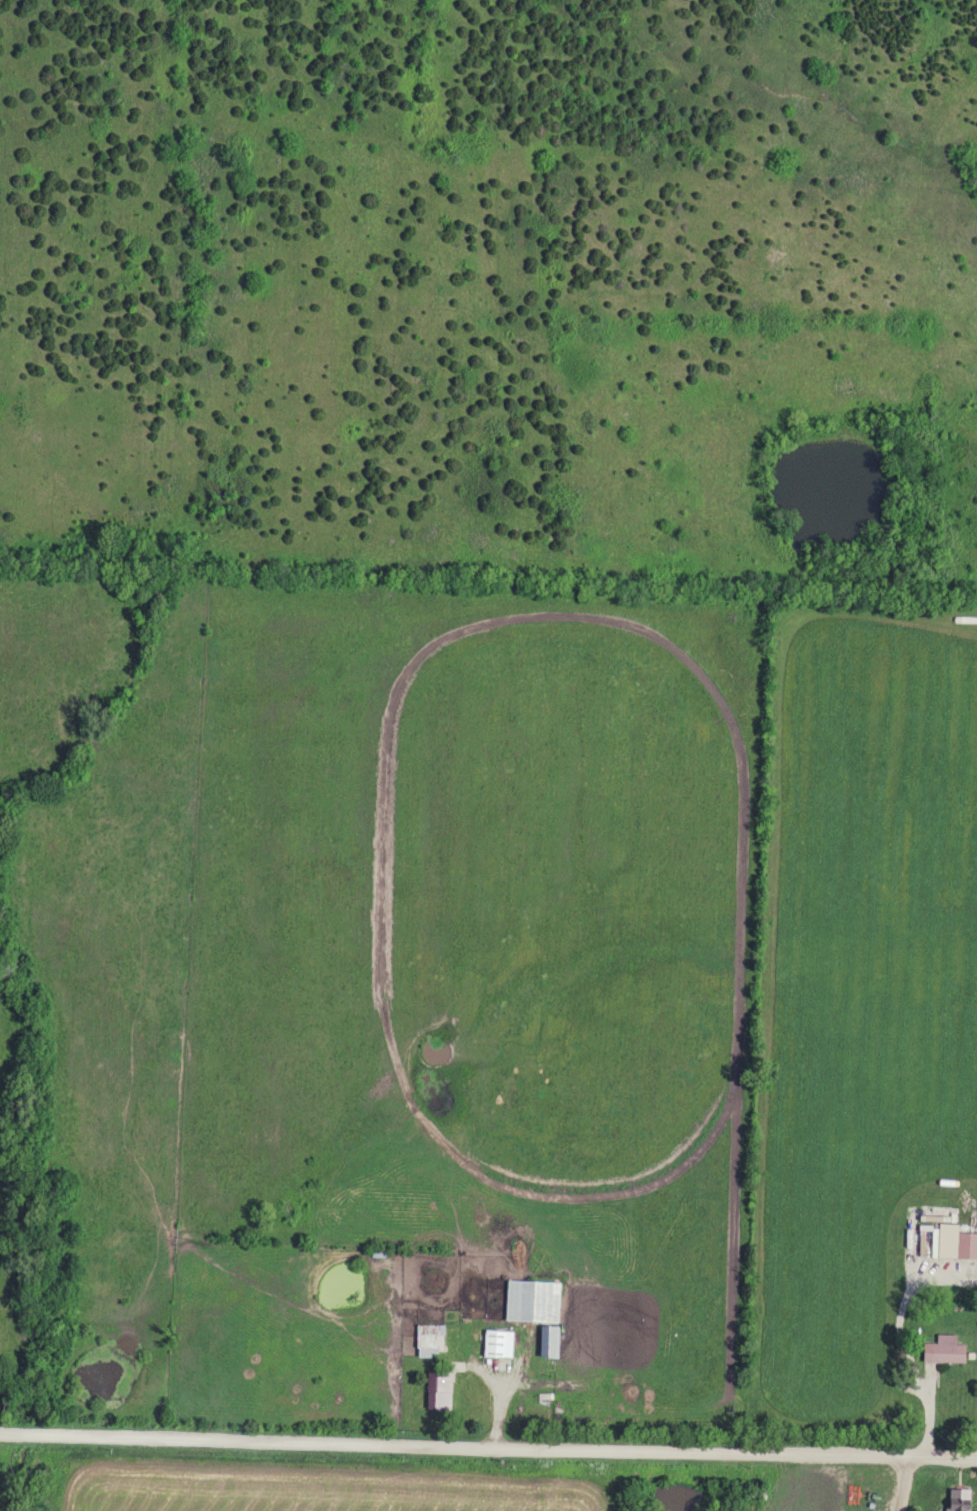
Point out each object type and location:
building: (954, 1244)
building: (531, 1302)
building: (428, 1340)
building: (495, 1344)
building: (941, 1353)
building: (436, 1389)
road: (488, 1448)
road: (903, 1484)
building: (954, 1500)

